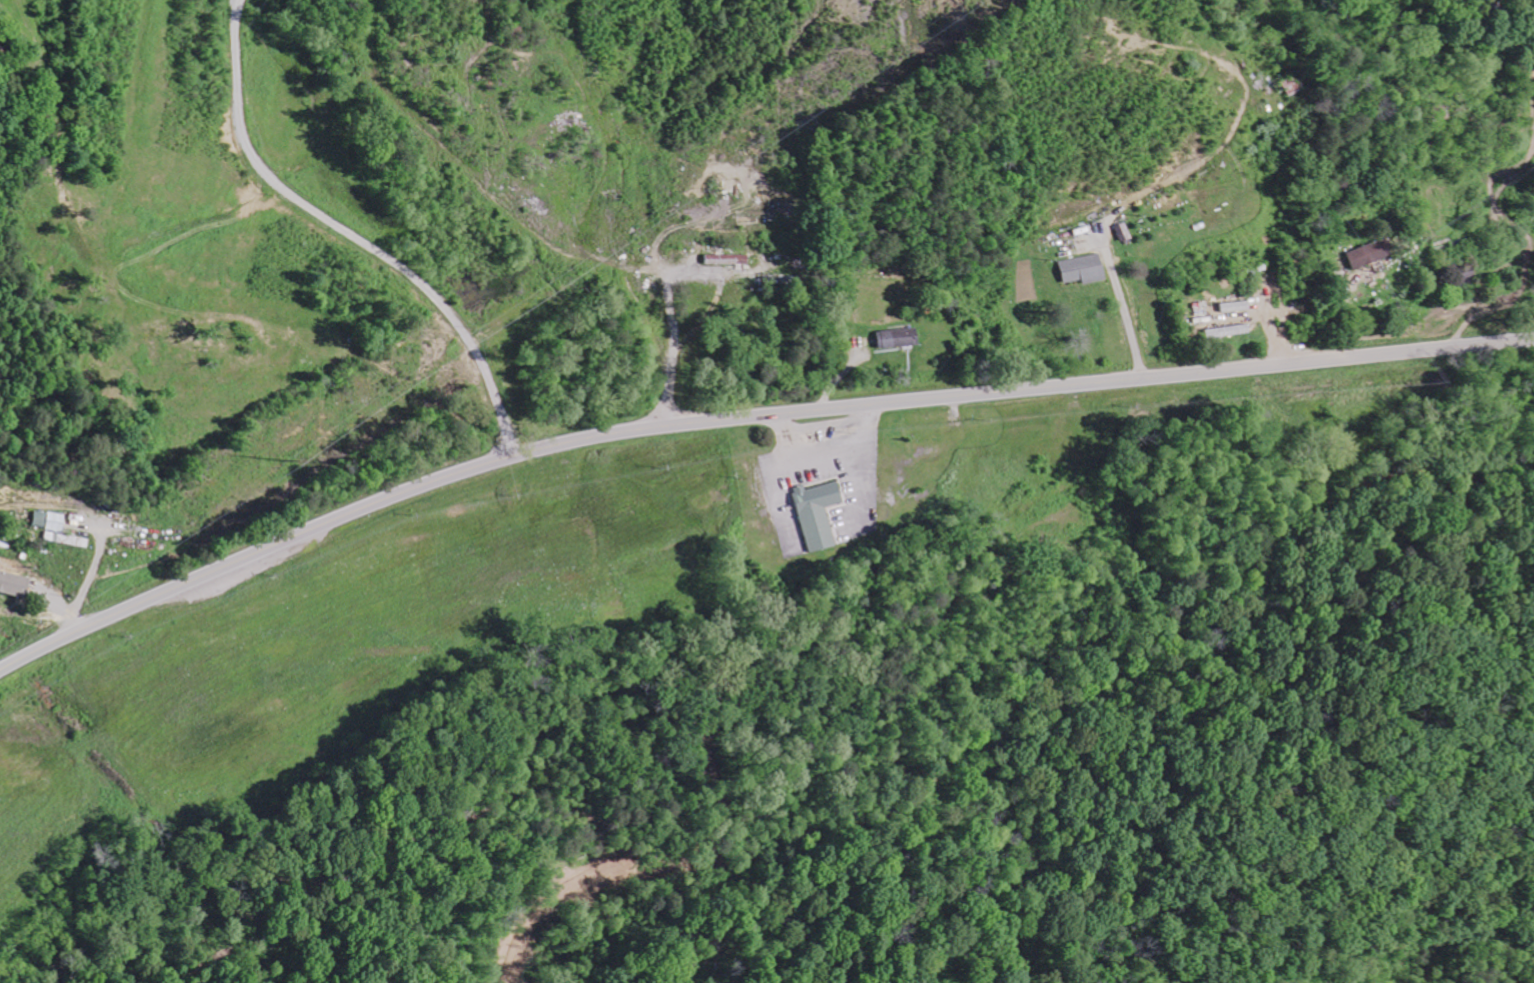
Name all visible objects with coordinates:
building: (1364, 254)
building: (721, 258)
building: (1077, 268)
building: (1231, 306)
building: (892, 336)
road: (745, 416)
building: (811, 513)
building: (62, 531)
building: (15, 583)

